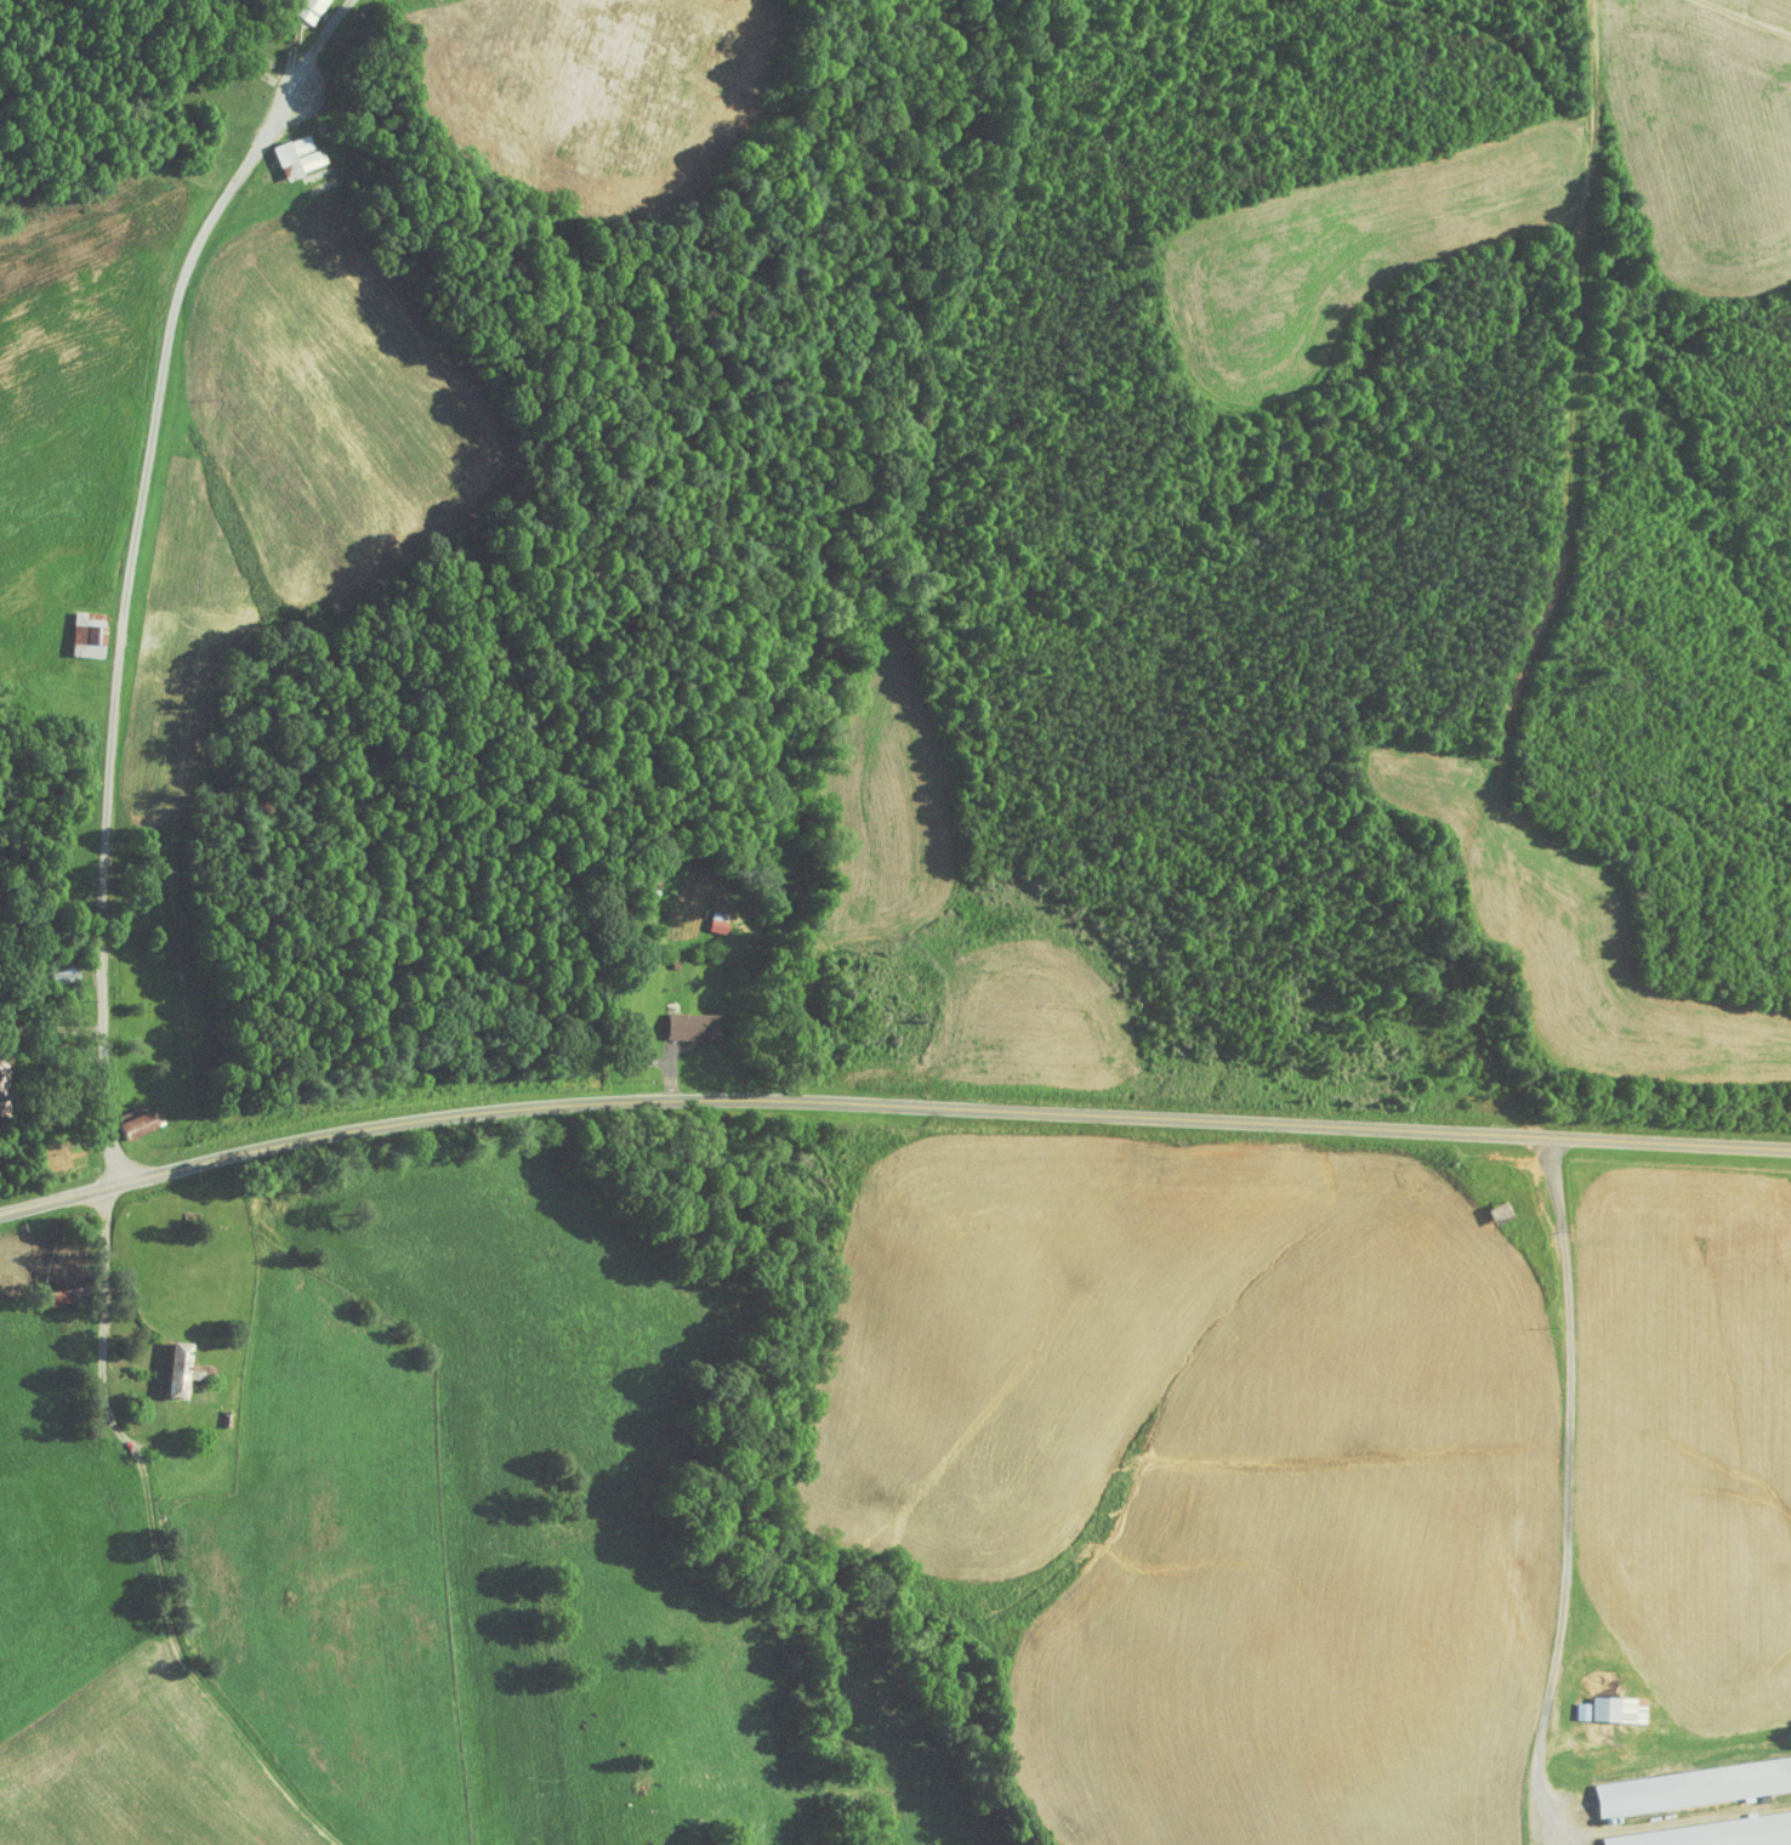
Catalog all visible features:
building: (294, 6)
building: (283, 148)
road: (126, 567)
building: (701, 914)
building: (677, 1018)
road: (889, 1105)
building: (120, 1117)
road: (103, 1278)
building: (167, 1363)
road: (1568, 1491)
building: (1598, 1701)
building: (1685, 1777)
building: (1699, 1827)

